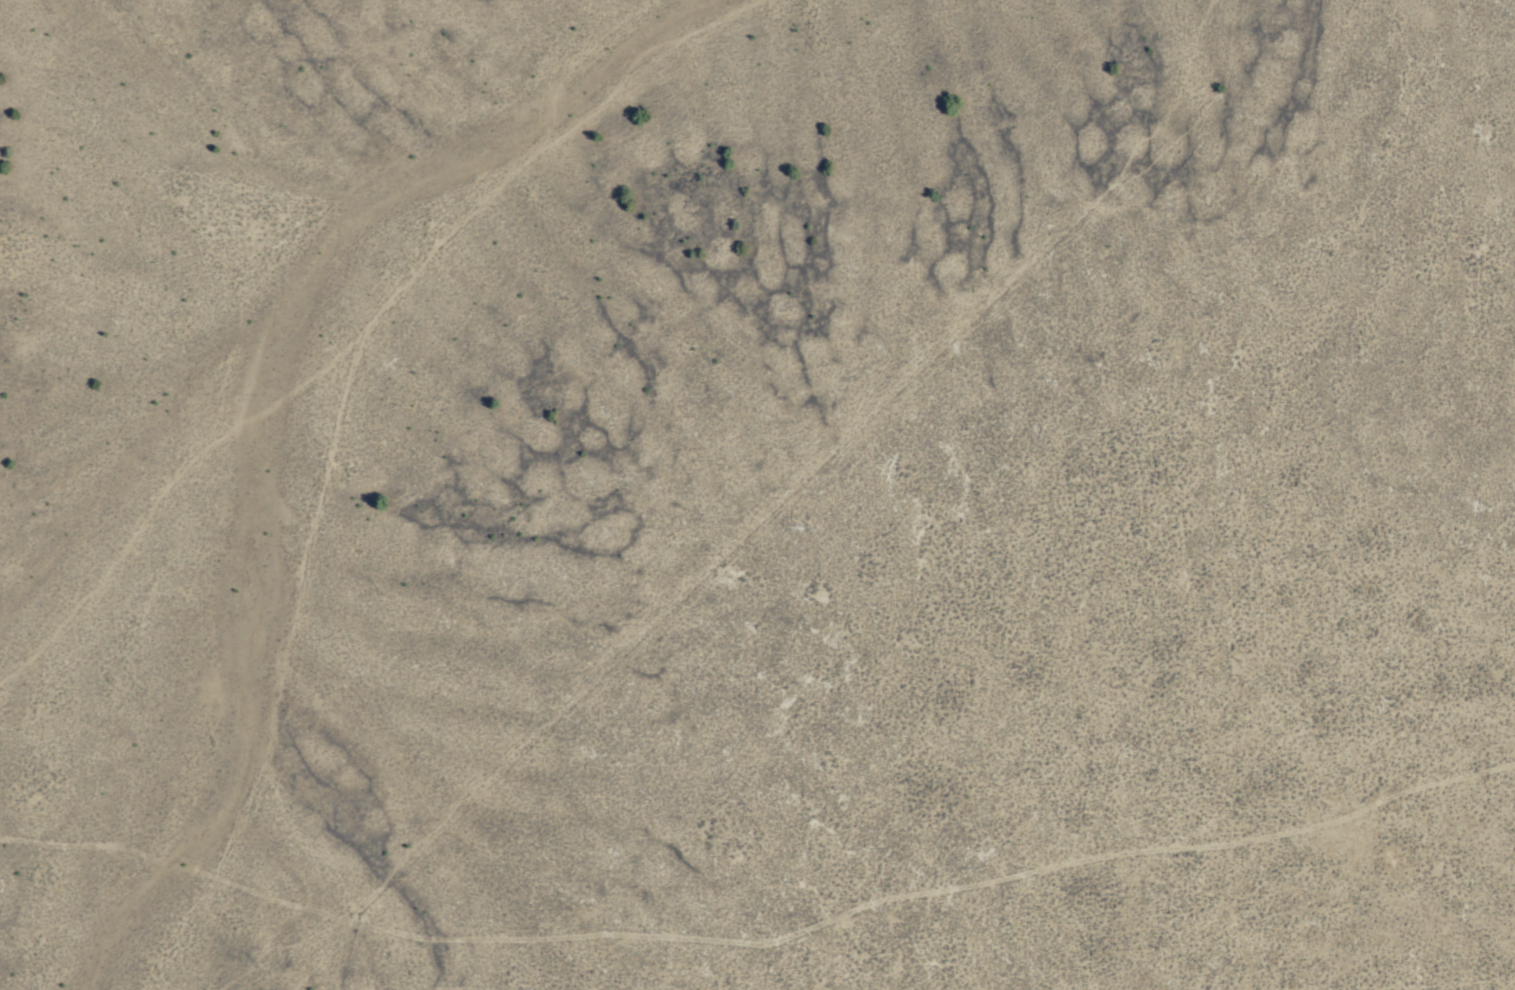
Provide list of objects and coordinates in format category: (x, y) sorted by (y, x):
road: (762, 942)

